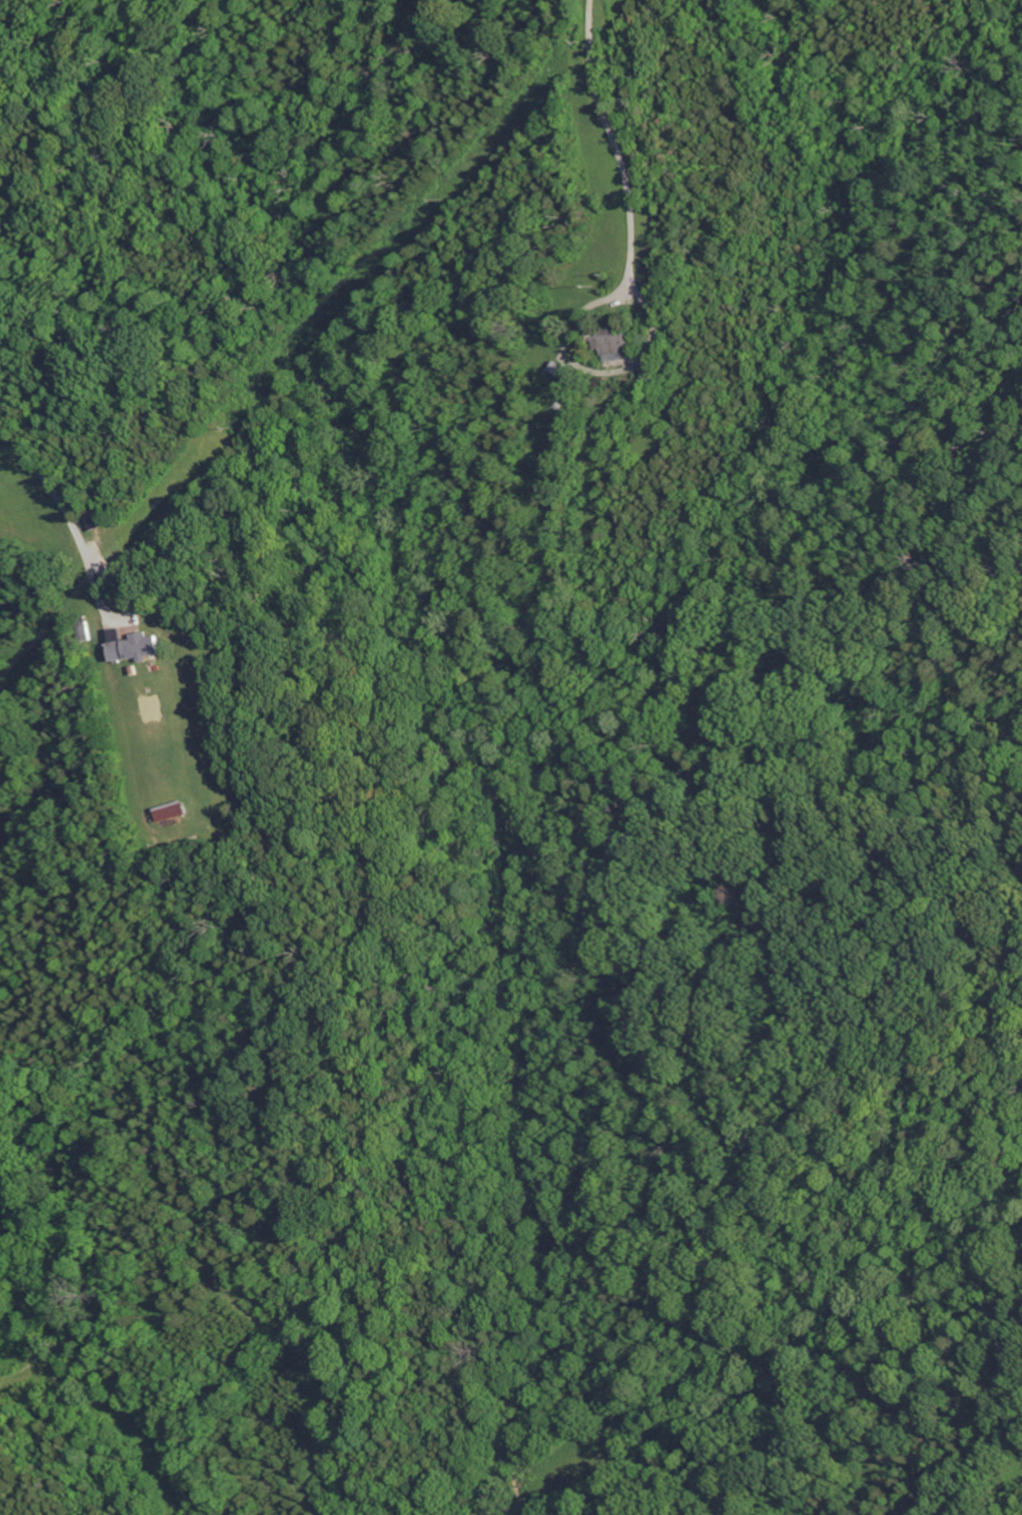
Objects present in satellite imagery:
road: (610, 141)
building: (609, 344)
road: (592, 371)
road: (53, 489)
road: (126, 617)
building: (141, 647)

